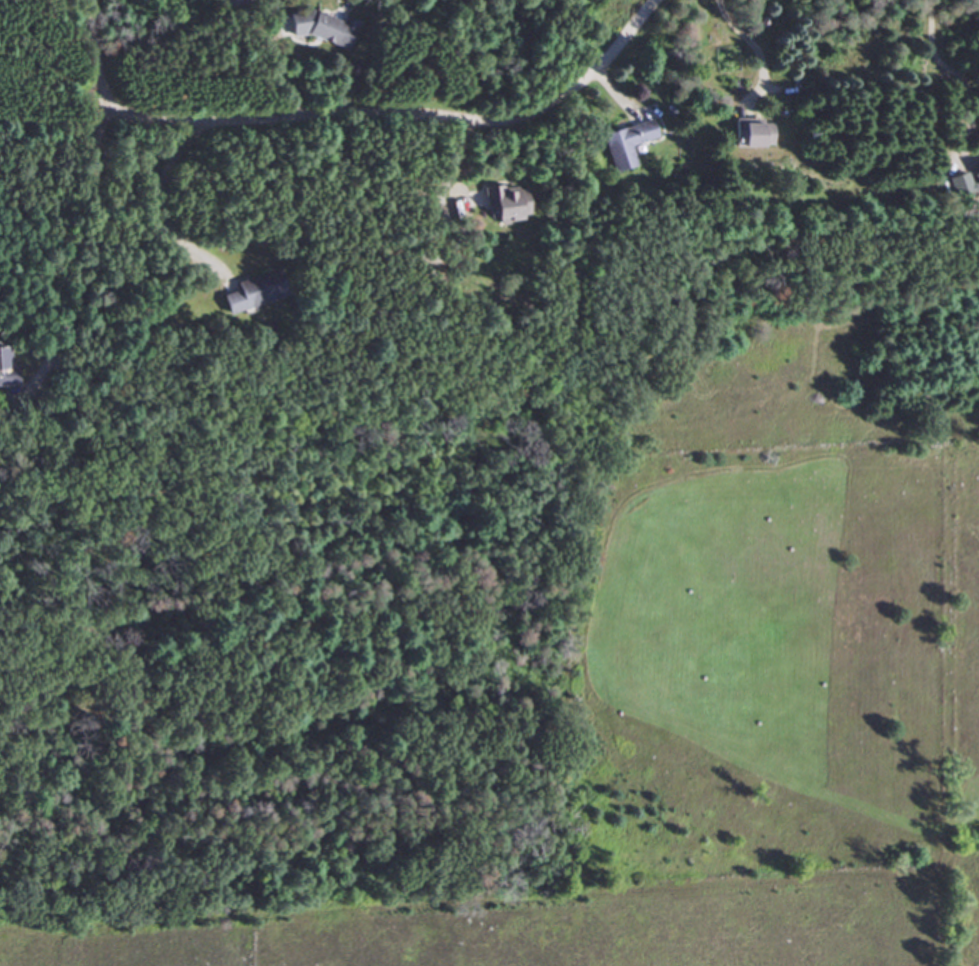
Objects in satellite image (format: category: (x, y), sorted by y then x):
building: (230, 5)
building: (316, 28)
road: (753, 43)
road: (954, 74)
road: (353, 108)
building: (747, 133)
building: (623, 143)
building: (967, 180)
road: (158, 185)
building: (504, 202)
road: (86, 232)
building: (248, 292)
building: (8, 375)

